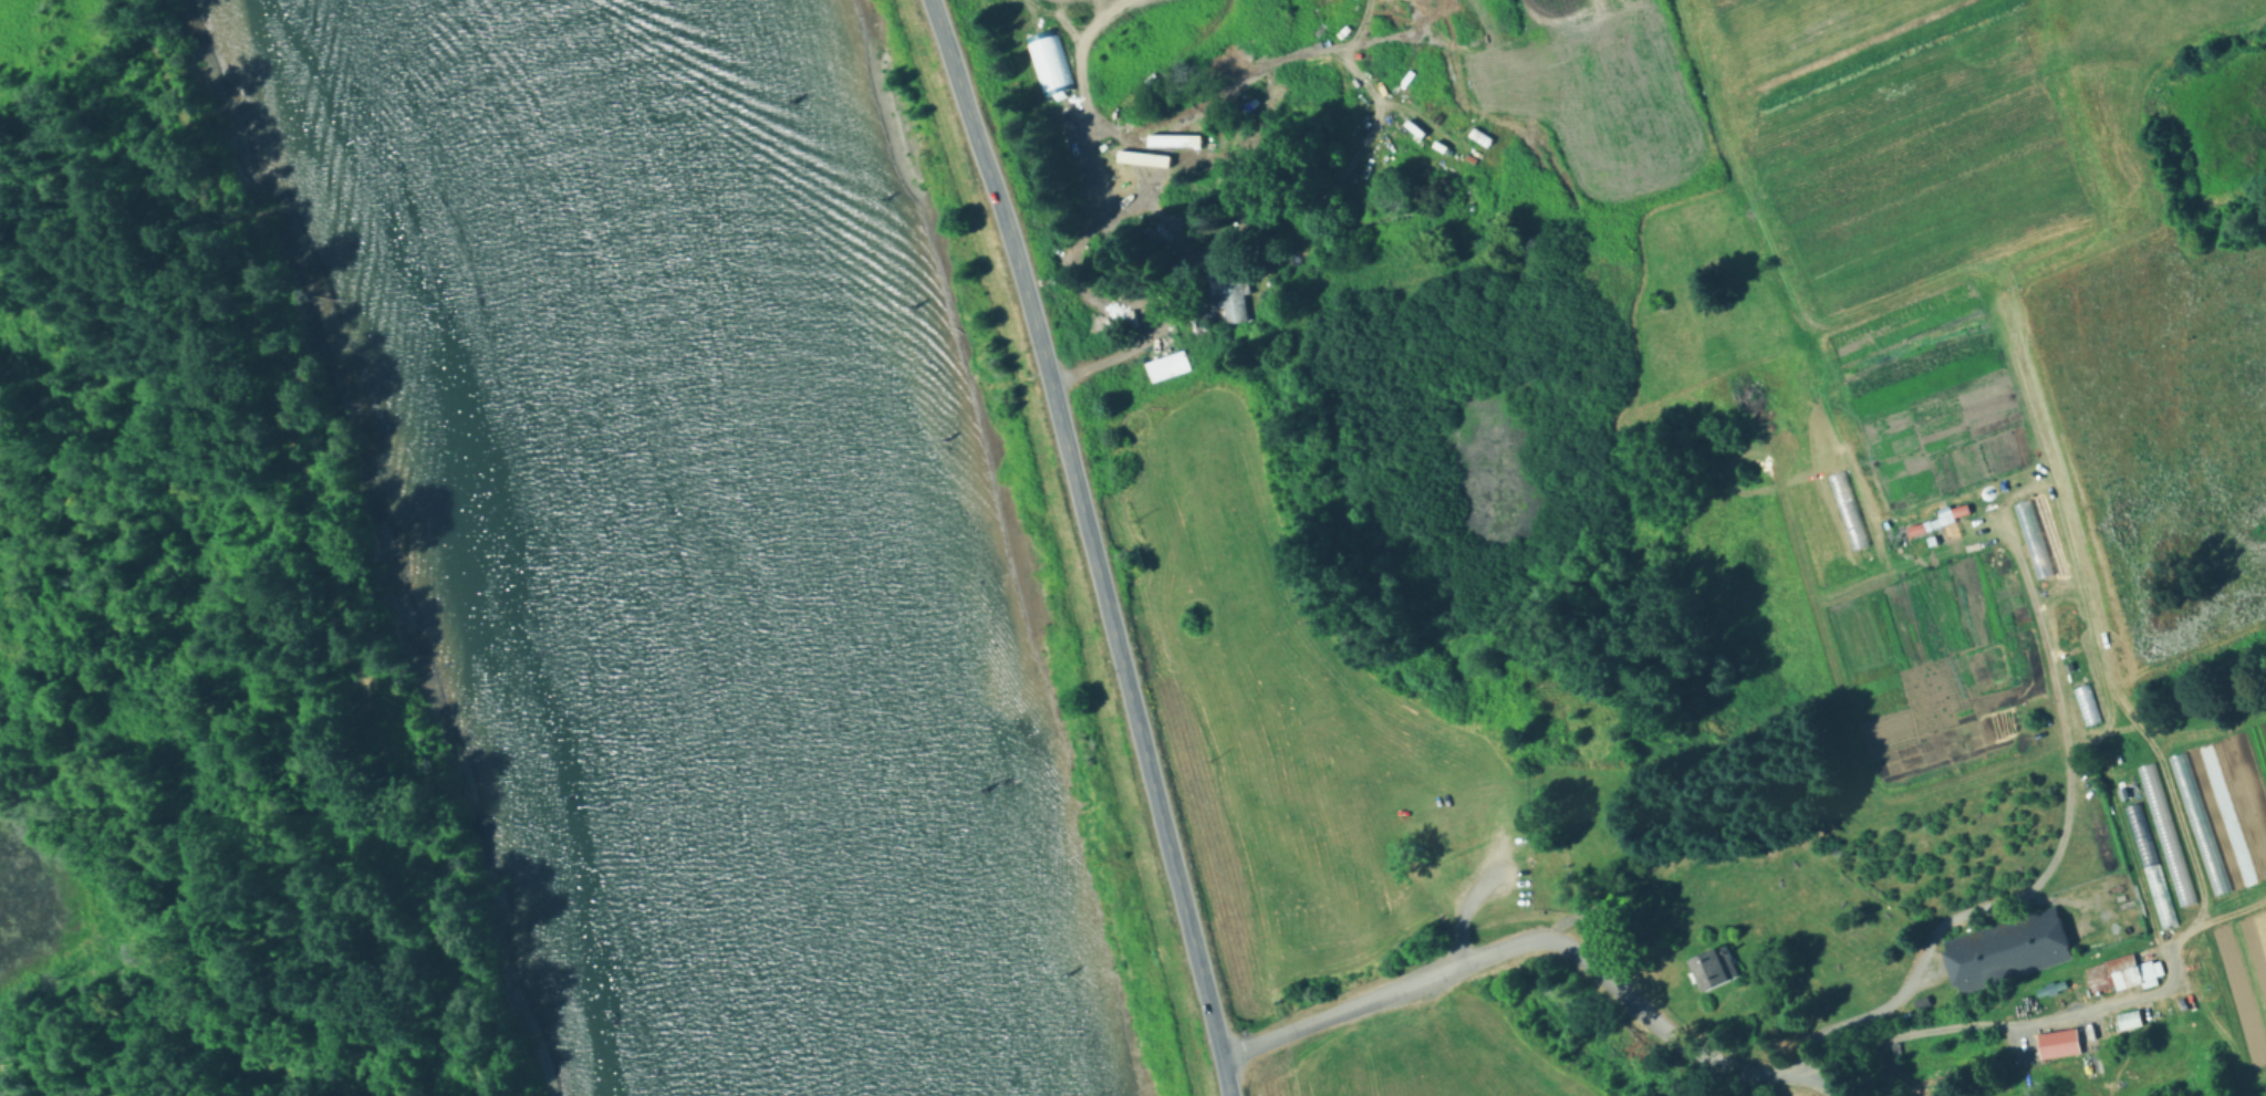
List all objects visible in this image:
building: (1231, 289)
road: (1114, 354)
building: (1869, 370)
building: (1932, 494)
road: (328, 543)
road: (1094, 544)
river: (706, 547)
park: (1758, 599)
building: (2085, 706)
building: (2139, 836)
building: (2164, 836)
road: (1525, 941)
building: (2006, 949)
building: (1712, 969)
building: (2121, 971)
building: (1922, 1003)
building: (2130, 1020)
road: (2005, 1026)
park: (1178, 1073)
road: (1818, 1084)
building: (2006, 1095)

